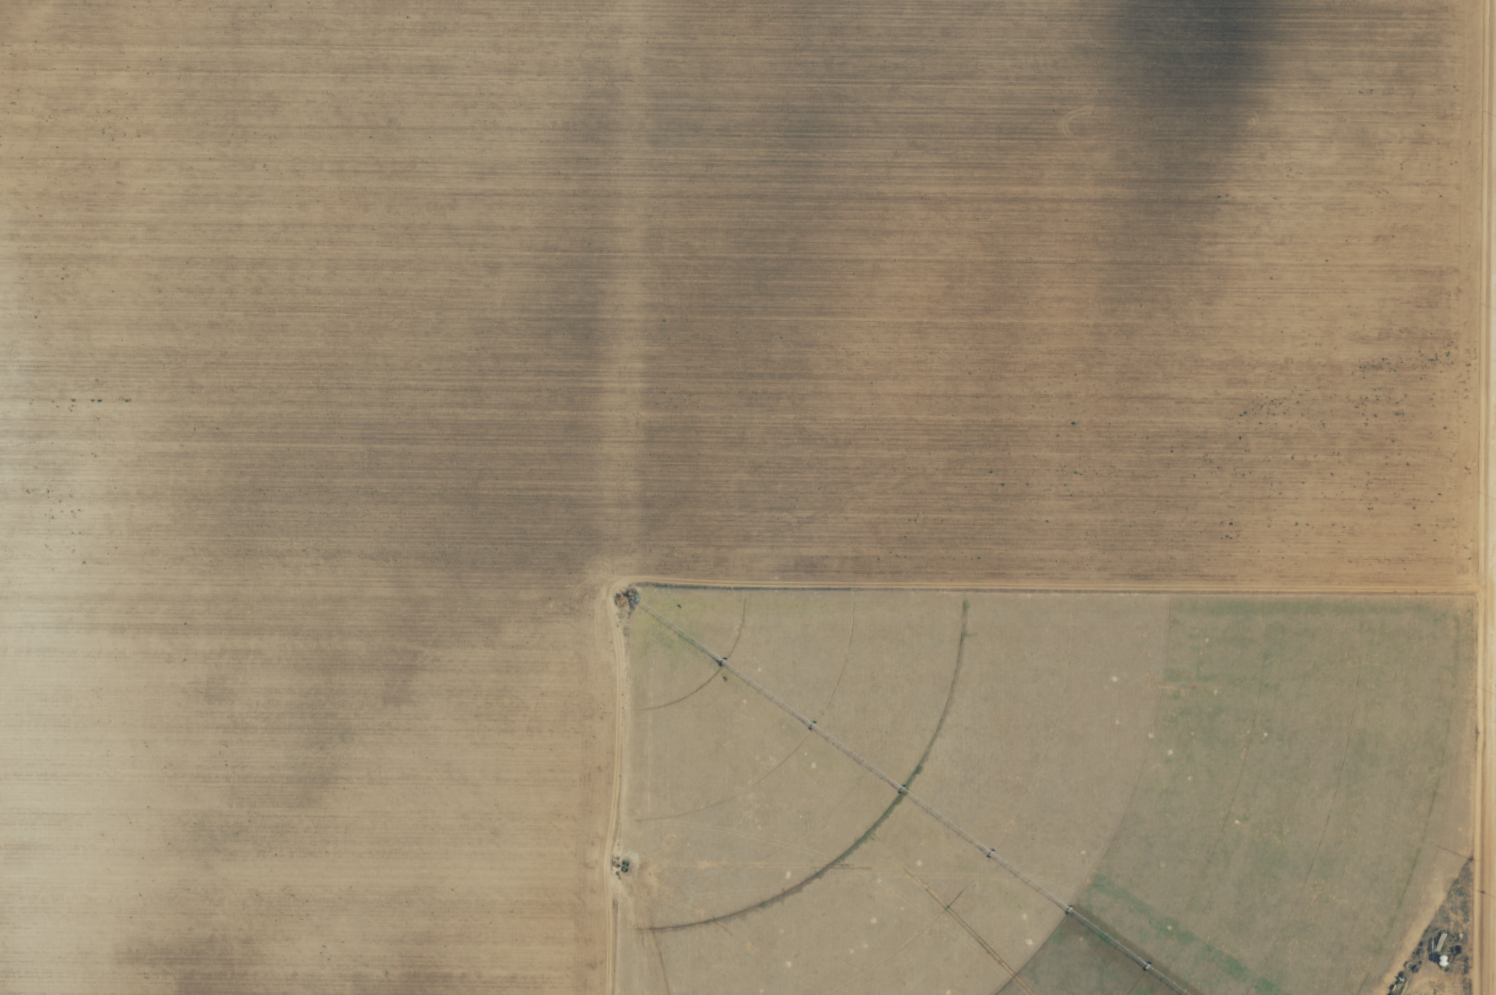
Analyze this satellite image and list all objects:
road: (1487, 497)

